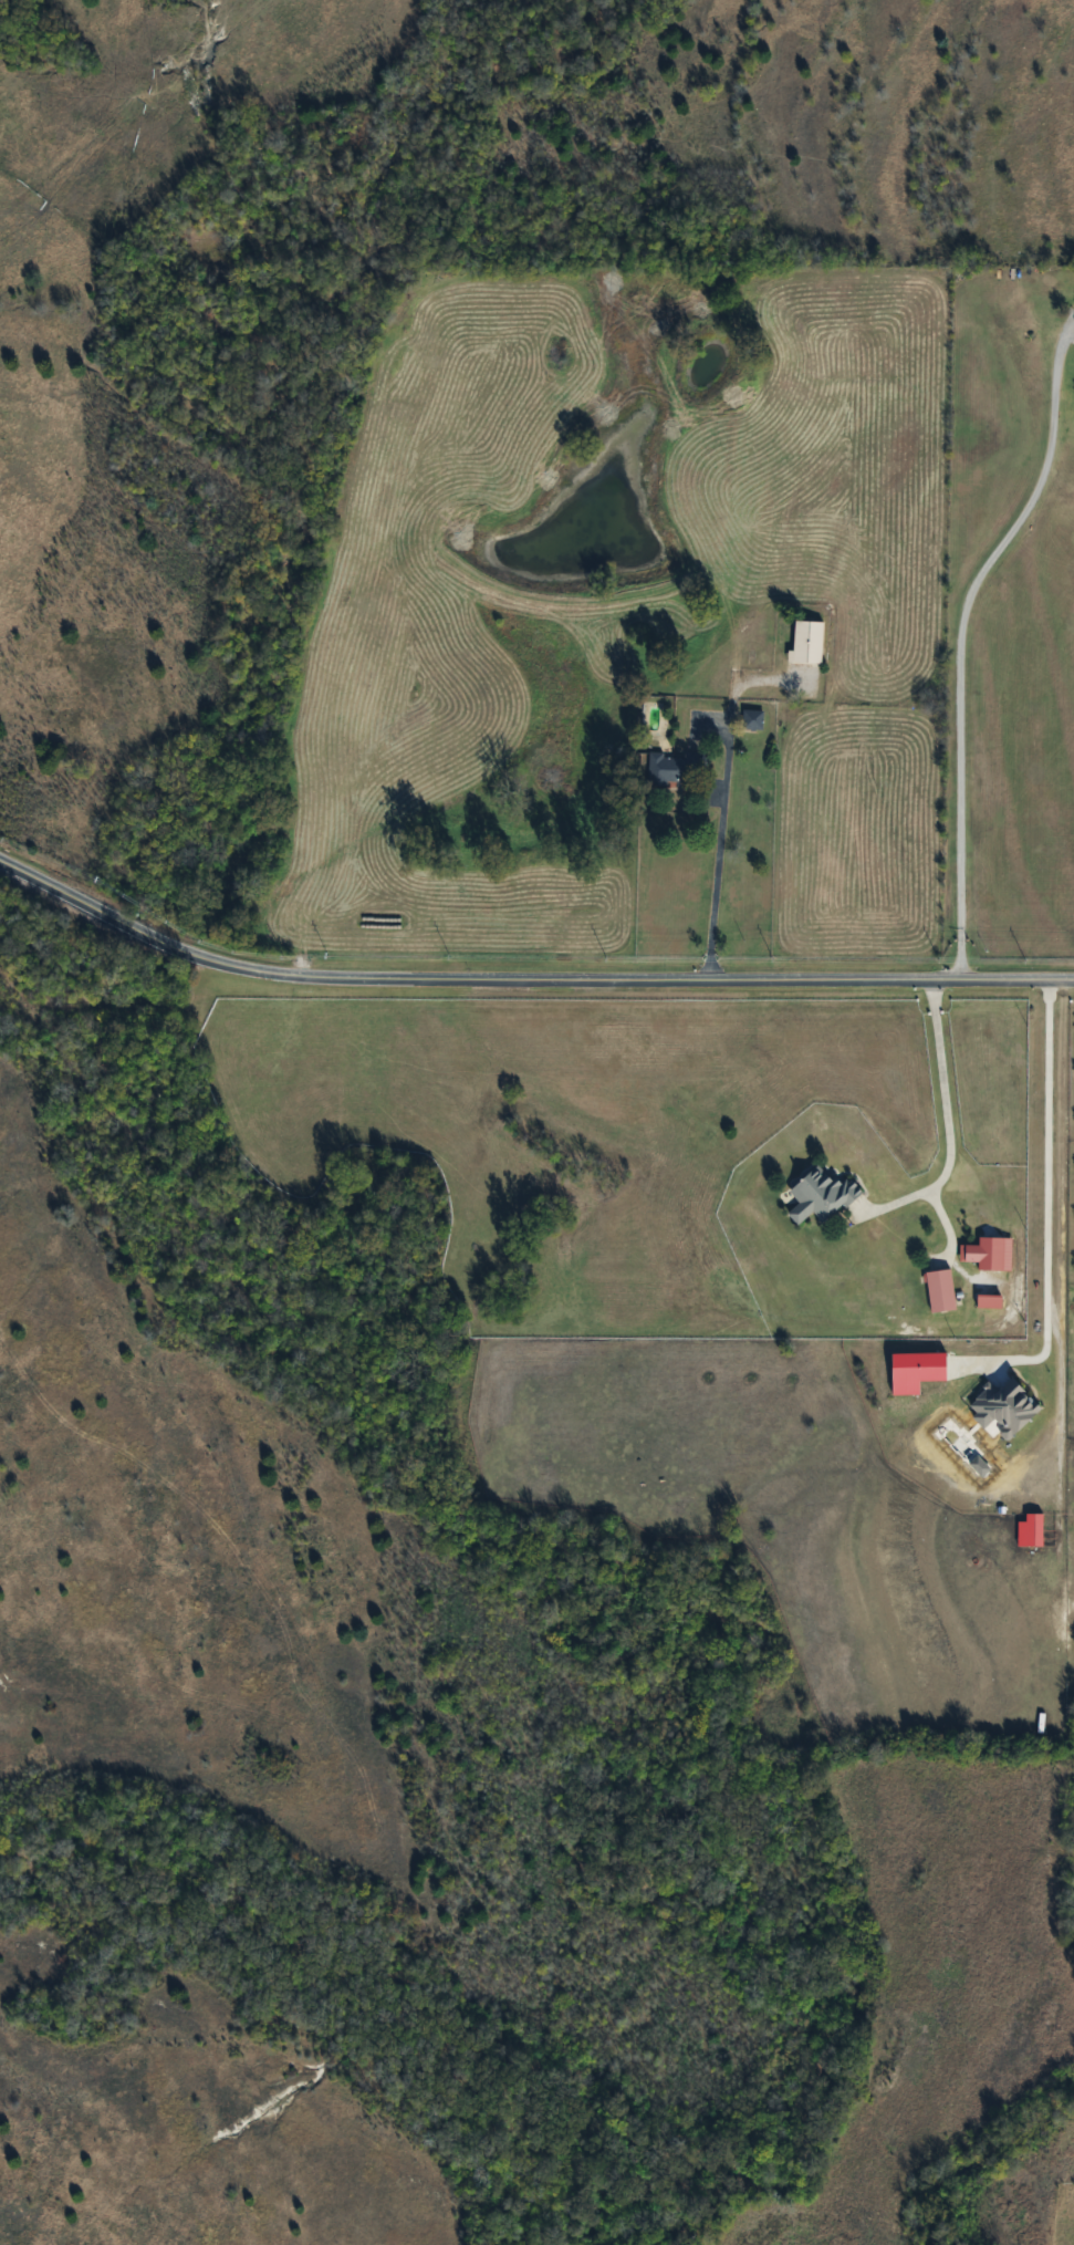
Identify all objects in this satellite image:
building: (805, 642)
road: (960, 642)
building: (752, 720)
building: (676, 769)
road: (712, 858)
road: (525, 984)
road: (942, 1115)
road: (1045, 1193)
building: (818, 1196)
building: (979, 1272)
building: (938, 1291)

